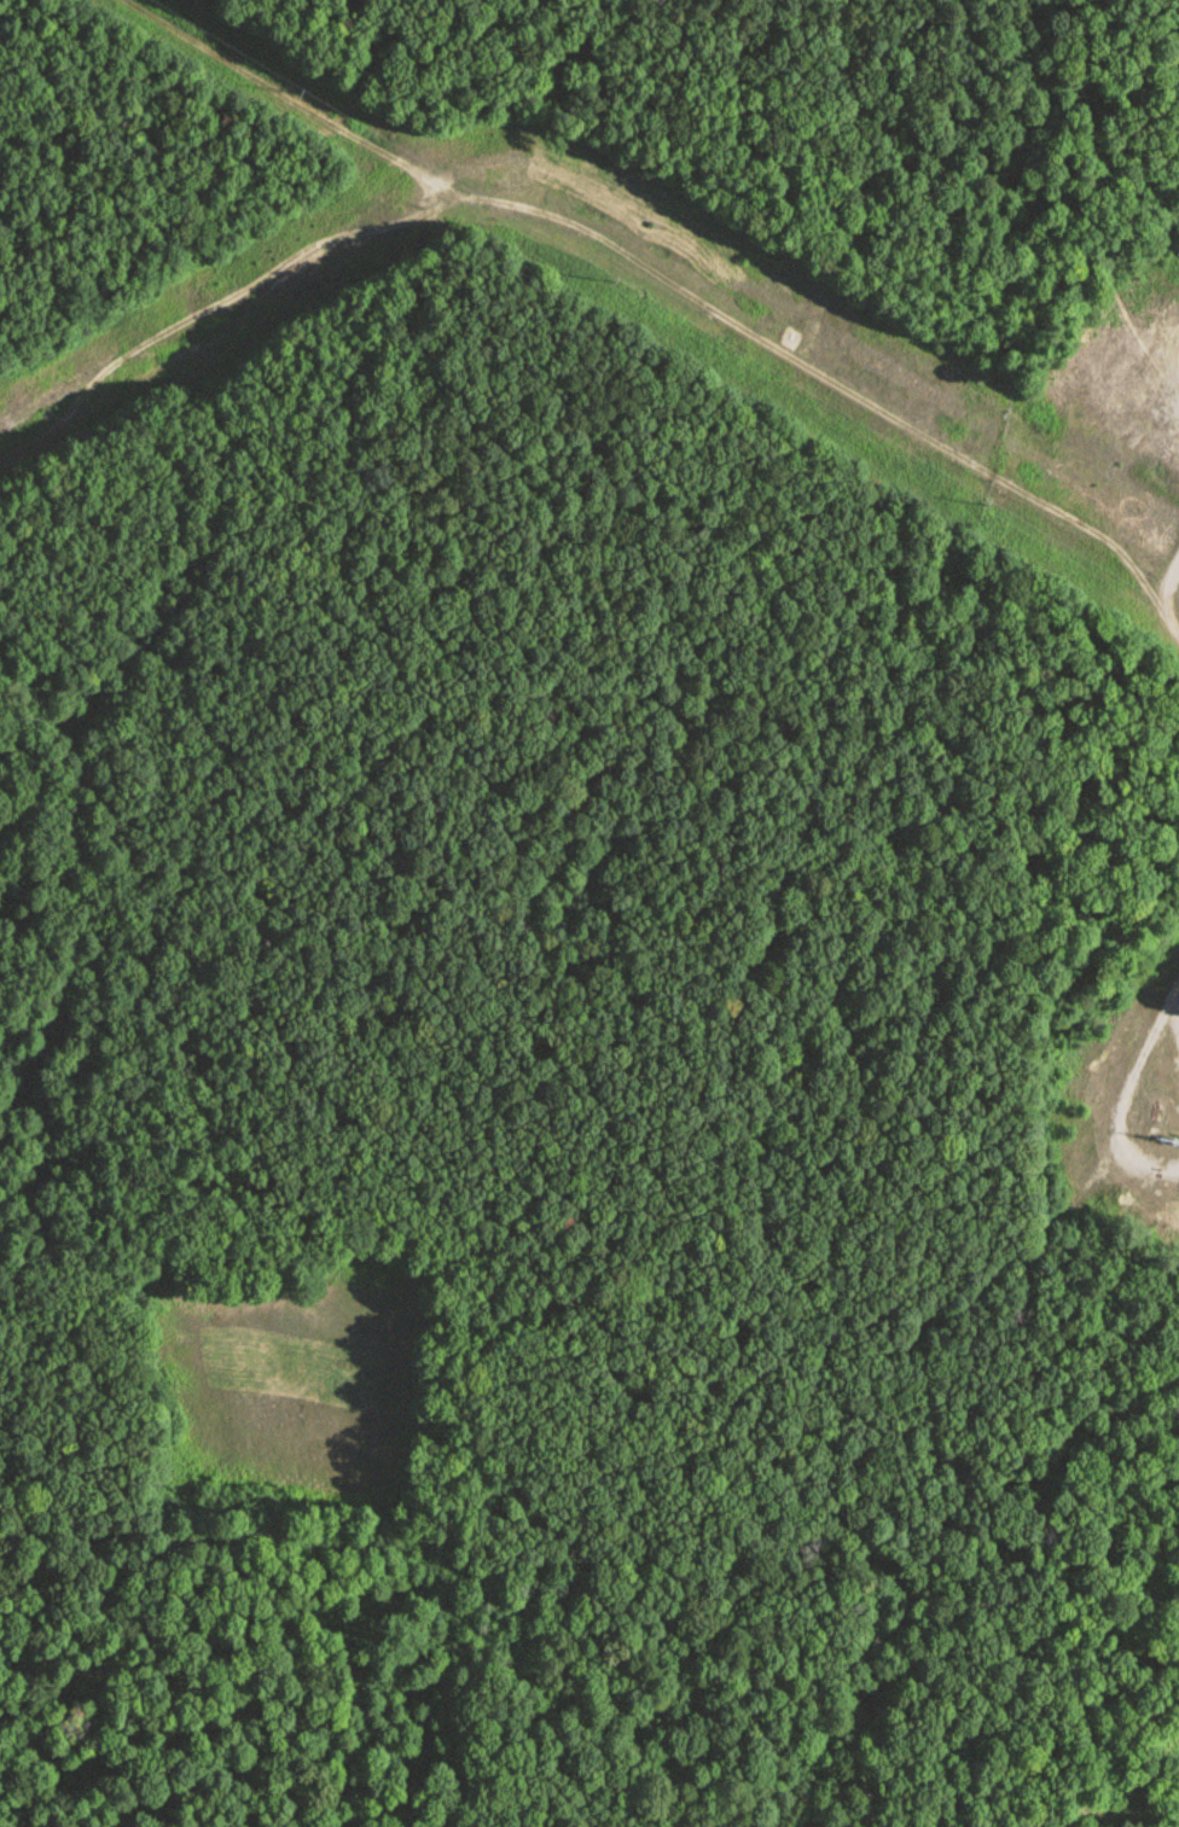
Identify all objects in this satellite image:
building: (1178, 252)
road: (675, 280)
road: (1169, 582)
road: (153, 956)
road: (1126, 1094)
petroleum well: (1165, 1136)
road: (303, 1338)

